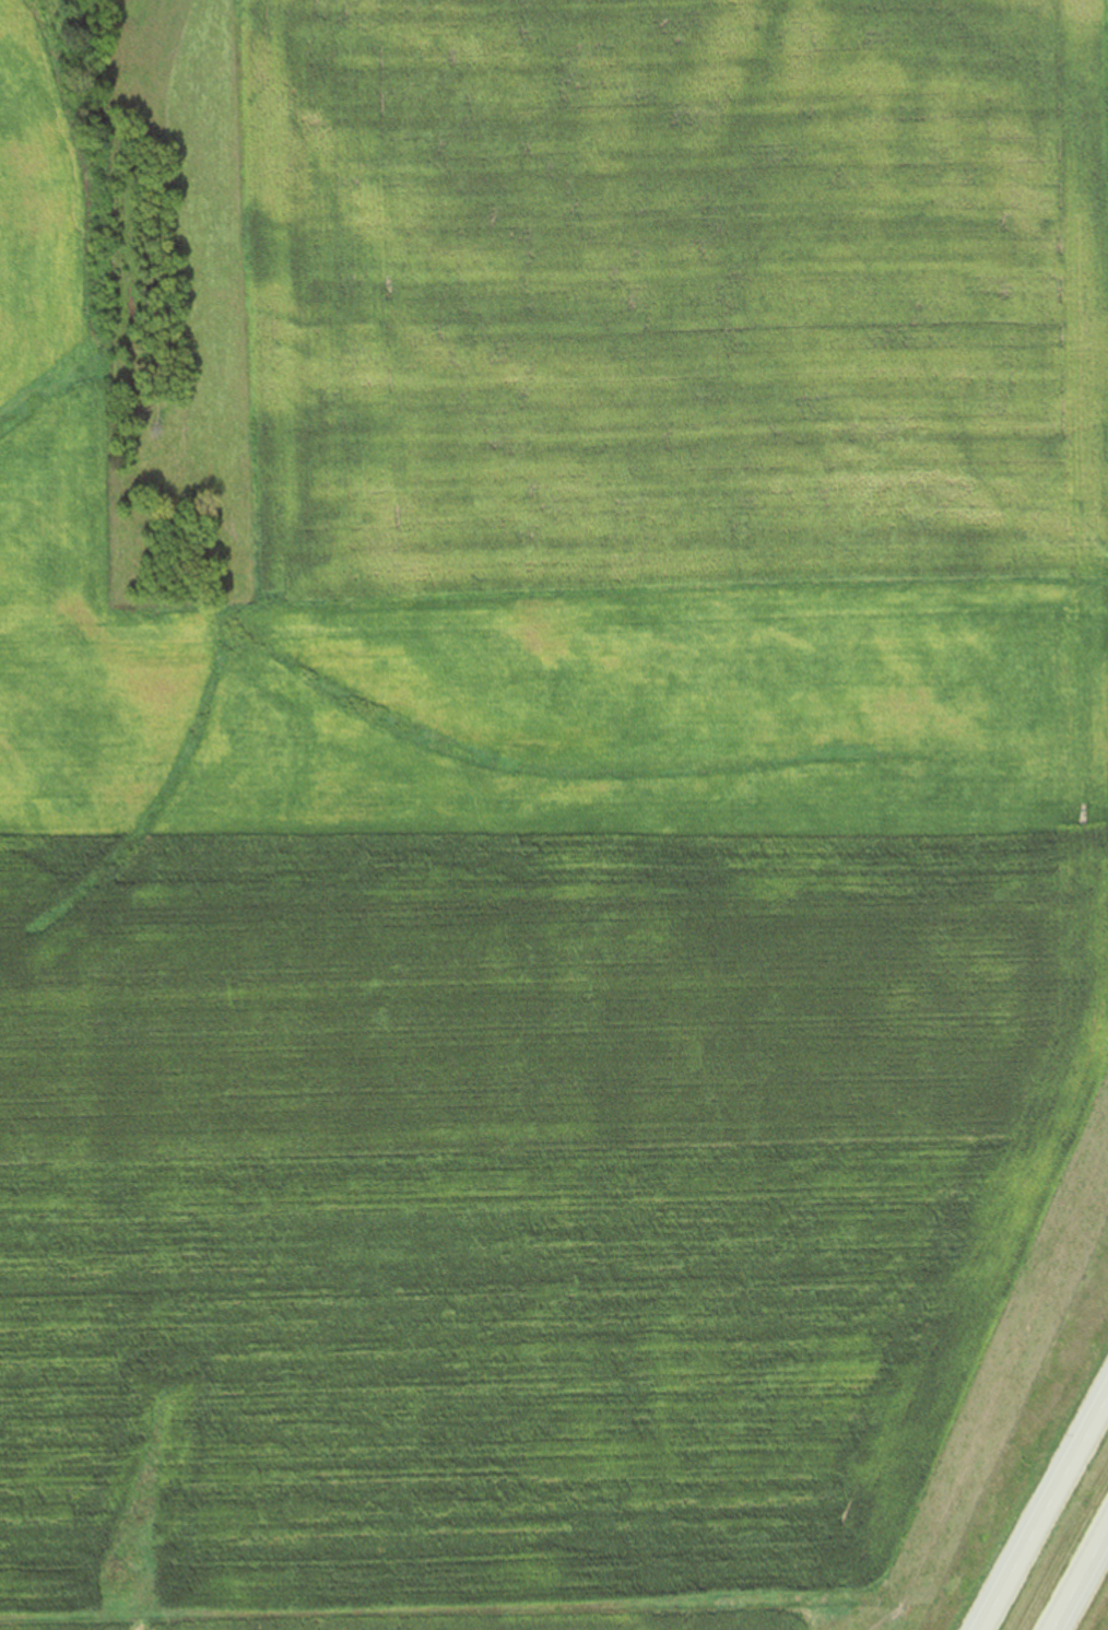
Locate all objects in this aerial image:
road: (1042, 1511)
road: (1085, 1588)

